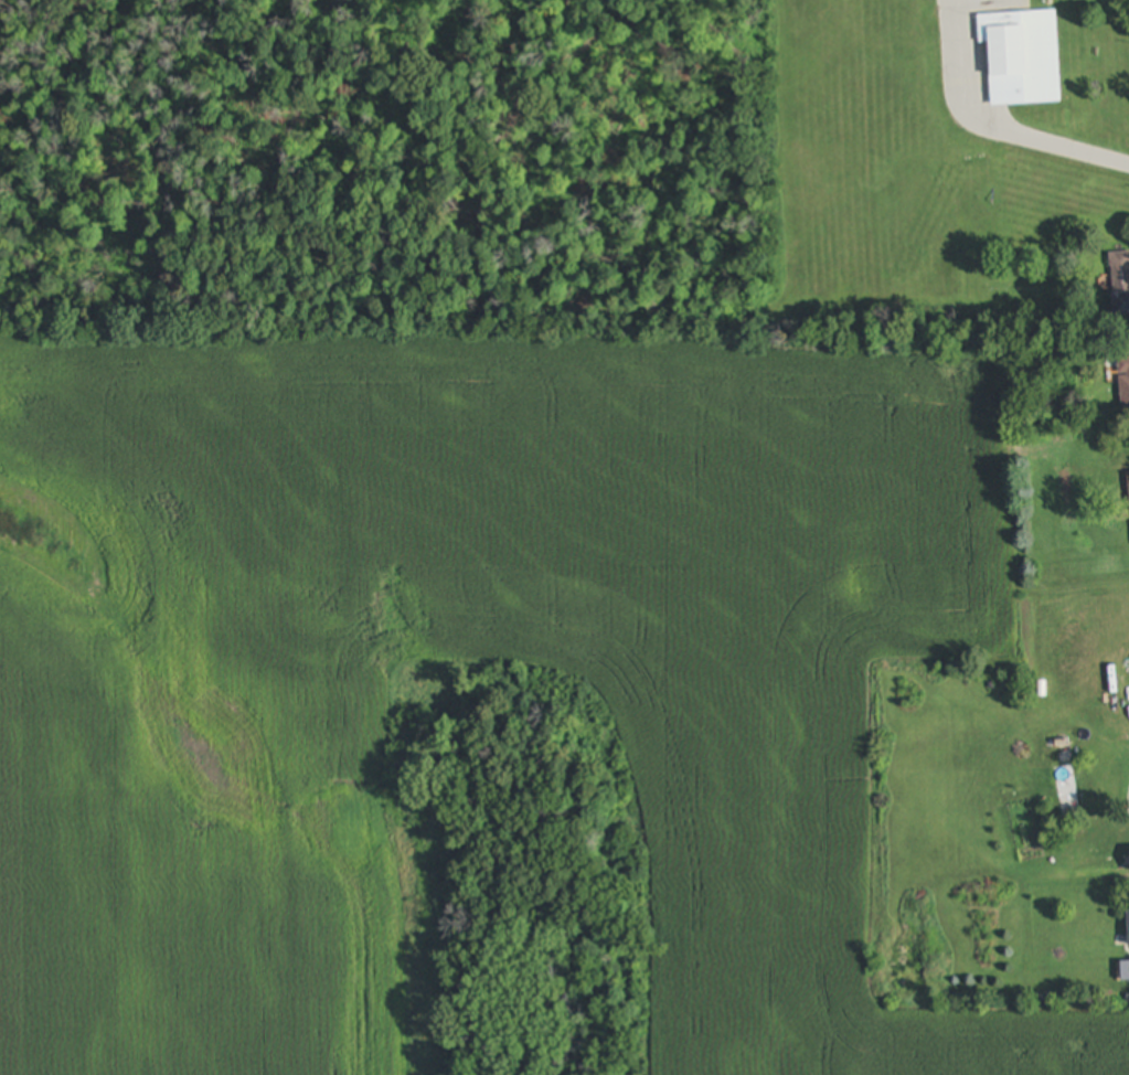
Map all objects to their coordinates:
building: (1023, 56)
road: (997, 125)
building: (1119, 267)
building: (1123, 384)

